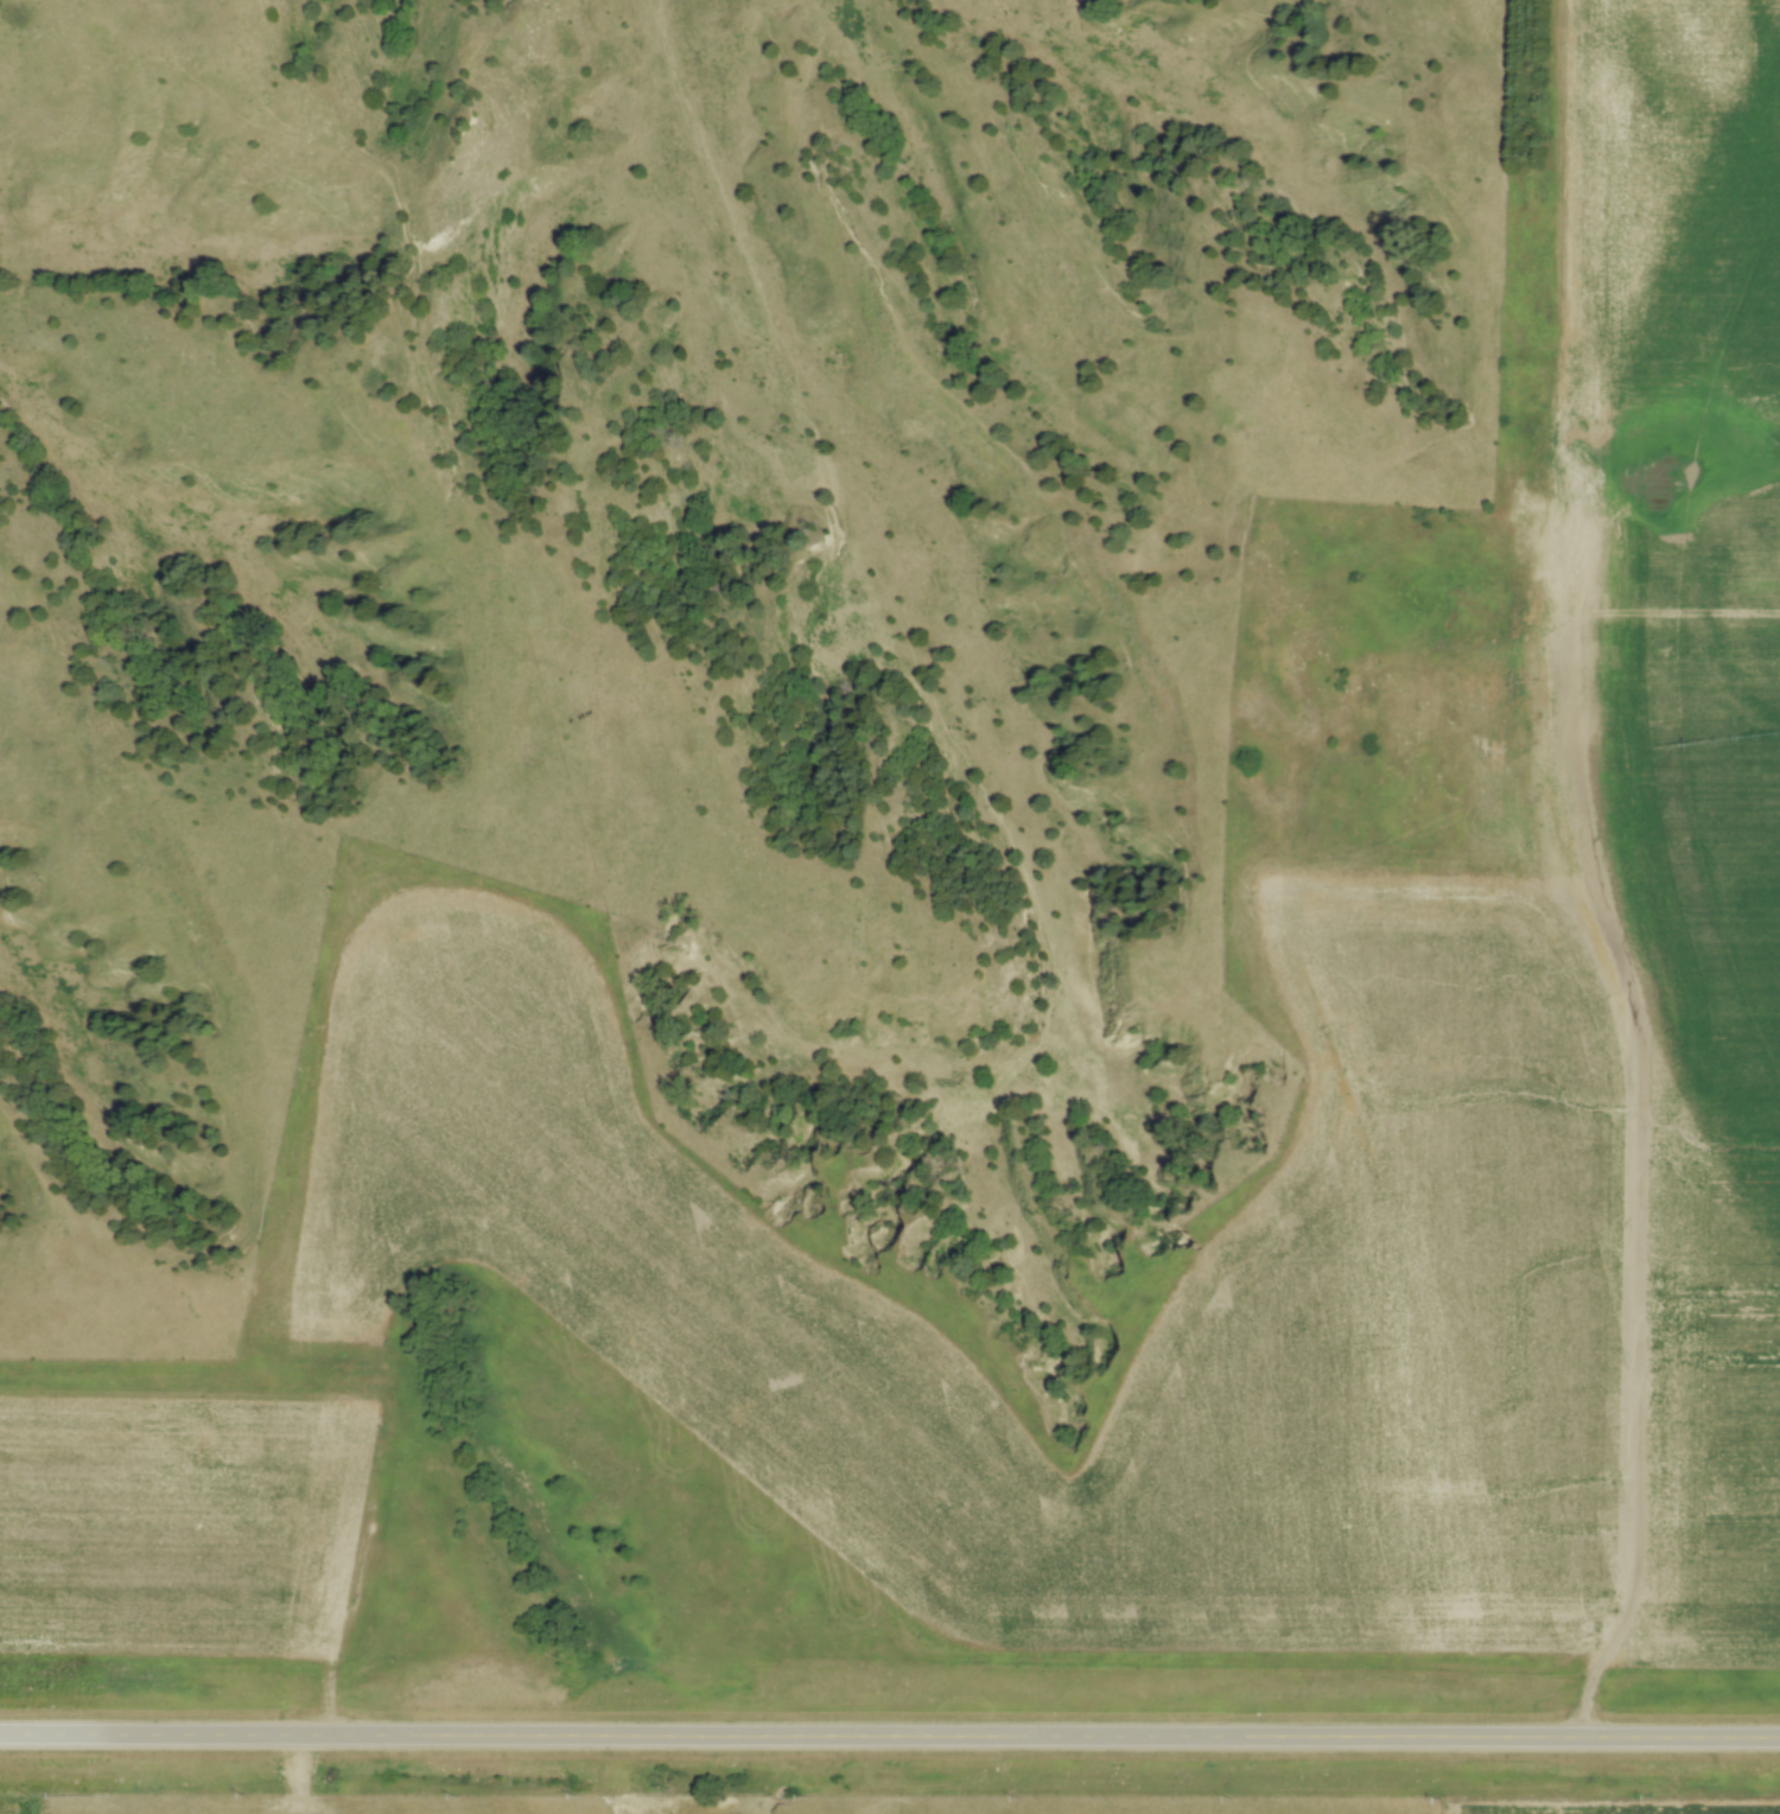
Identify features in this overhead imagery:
road: (890, 1737)

